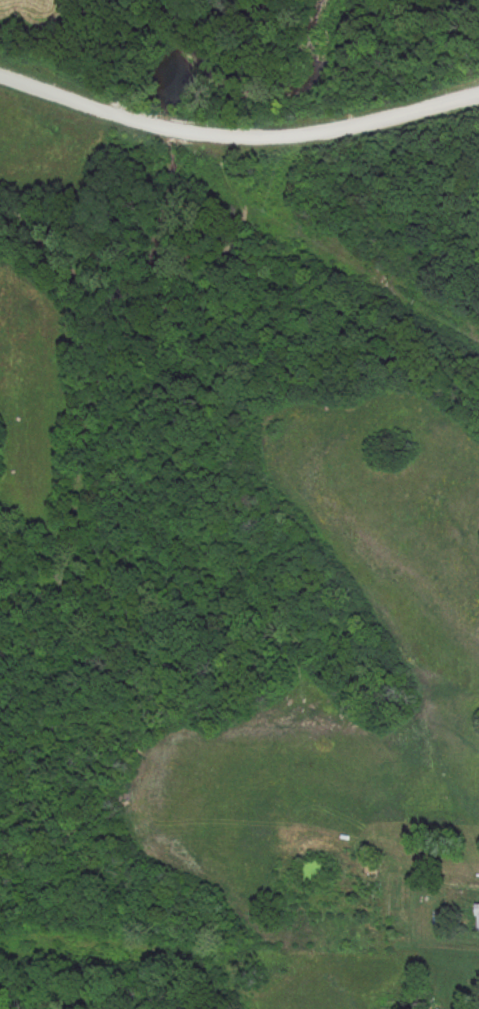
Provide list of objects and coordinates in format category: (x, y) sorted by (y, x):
road: (237, 136)
building: (477, 919)

